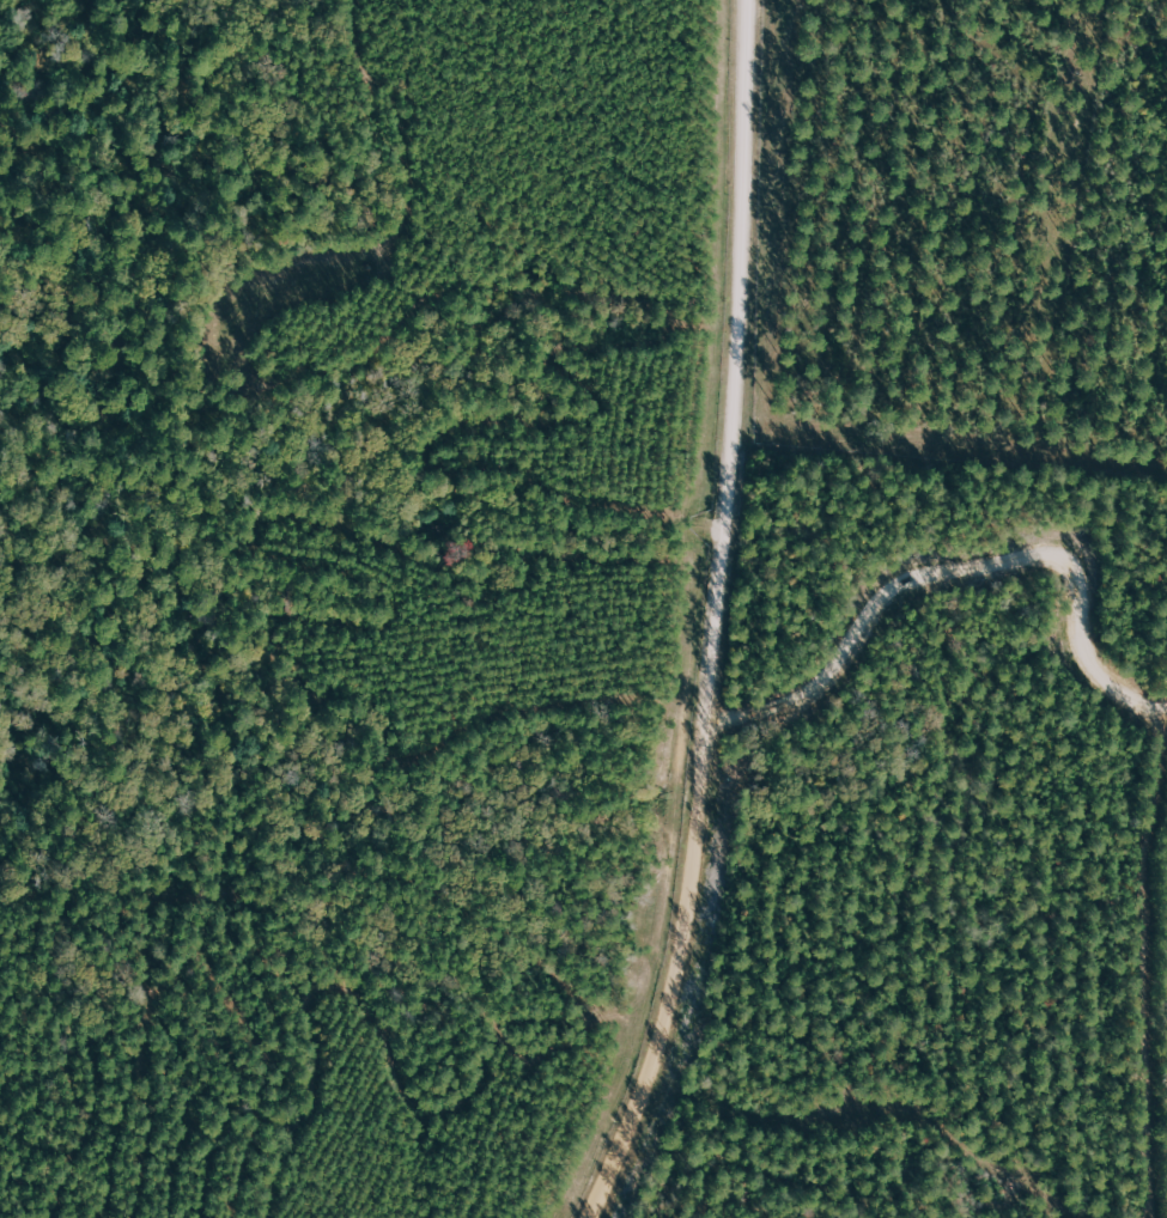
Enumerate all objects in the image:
road: (719, 616)

